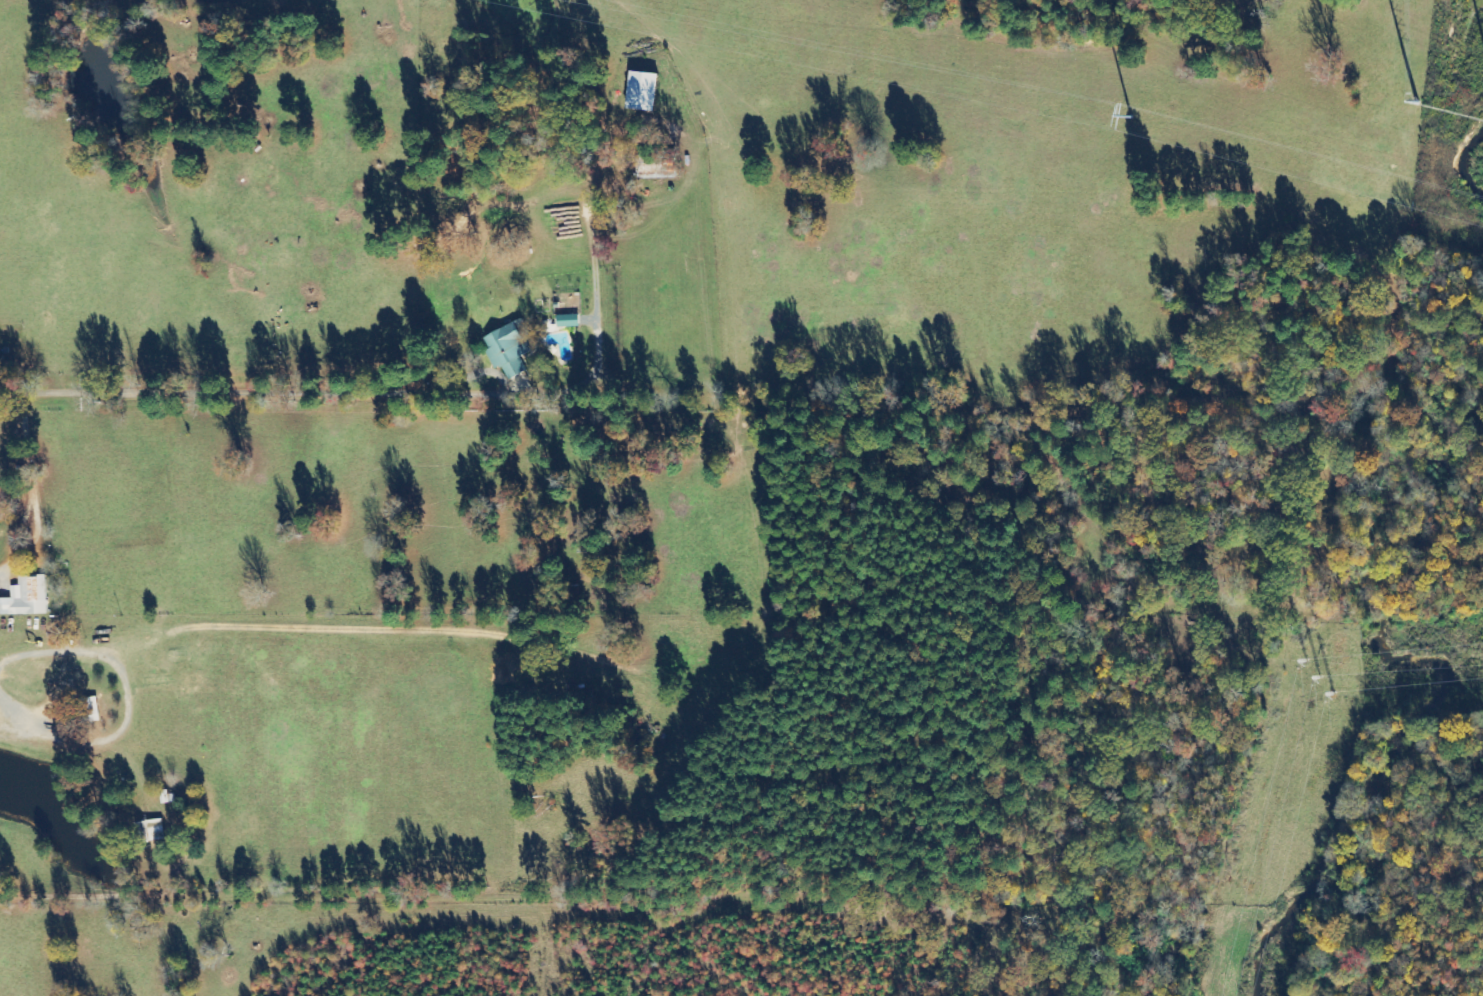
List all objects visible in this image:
building: (643, 90)
power tower: (1421, 108)
power tower: (1150, 119)
building: (660, 167)
building: (568, 320)
building: (510, 348)
road: (213, 390)
building: (26, 597)
power tower: (1329, 675)
building: (89, 709)
building: (150, 830)

